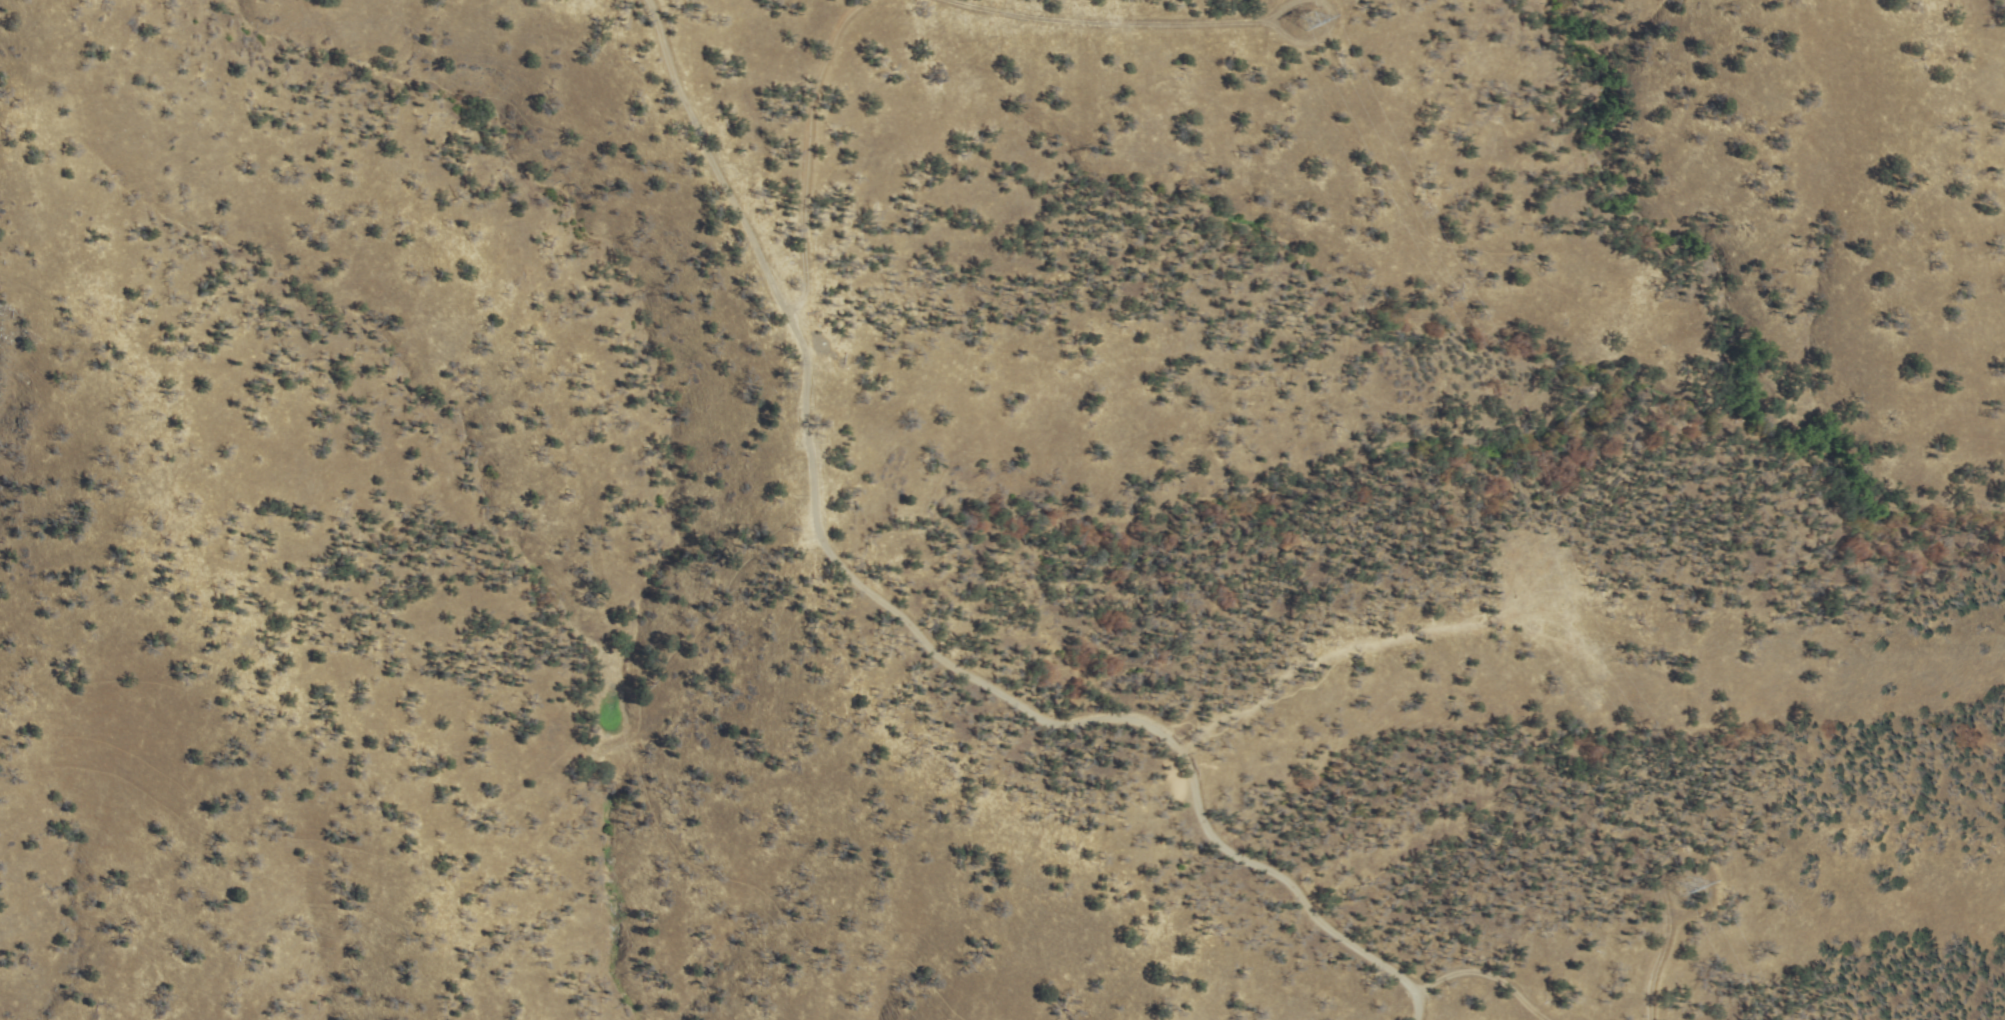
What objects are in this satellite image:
power tower: (1302, 20)
road: (922, 606)
power tower: (1682, 883)

